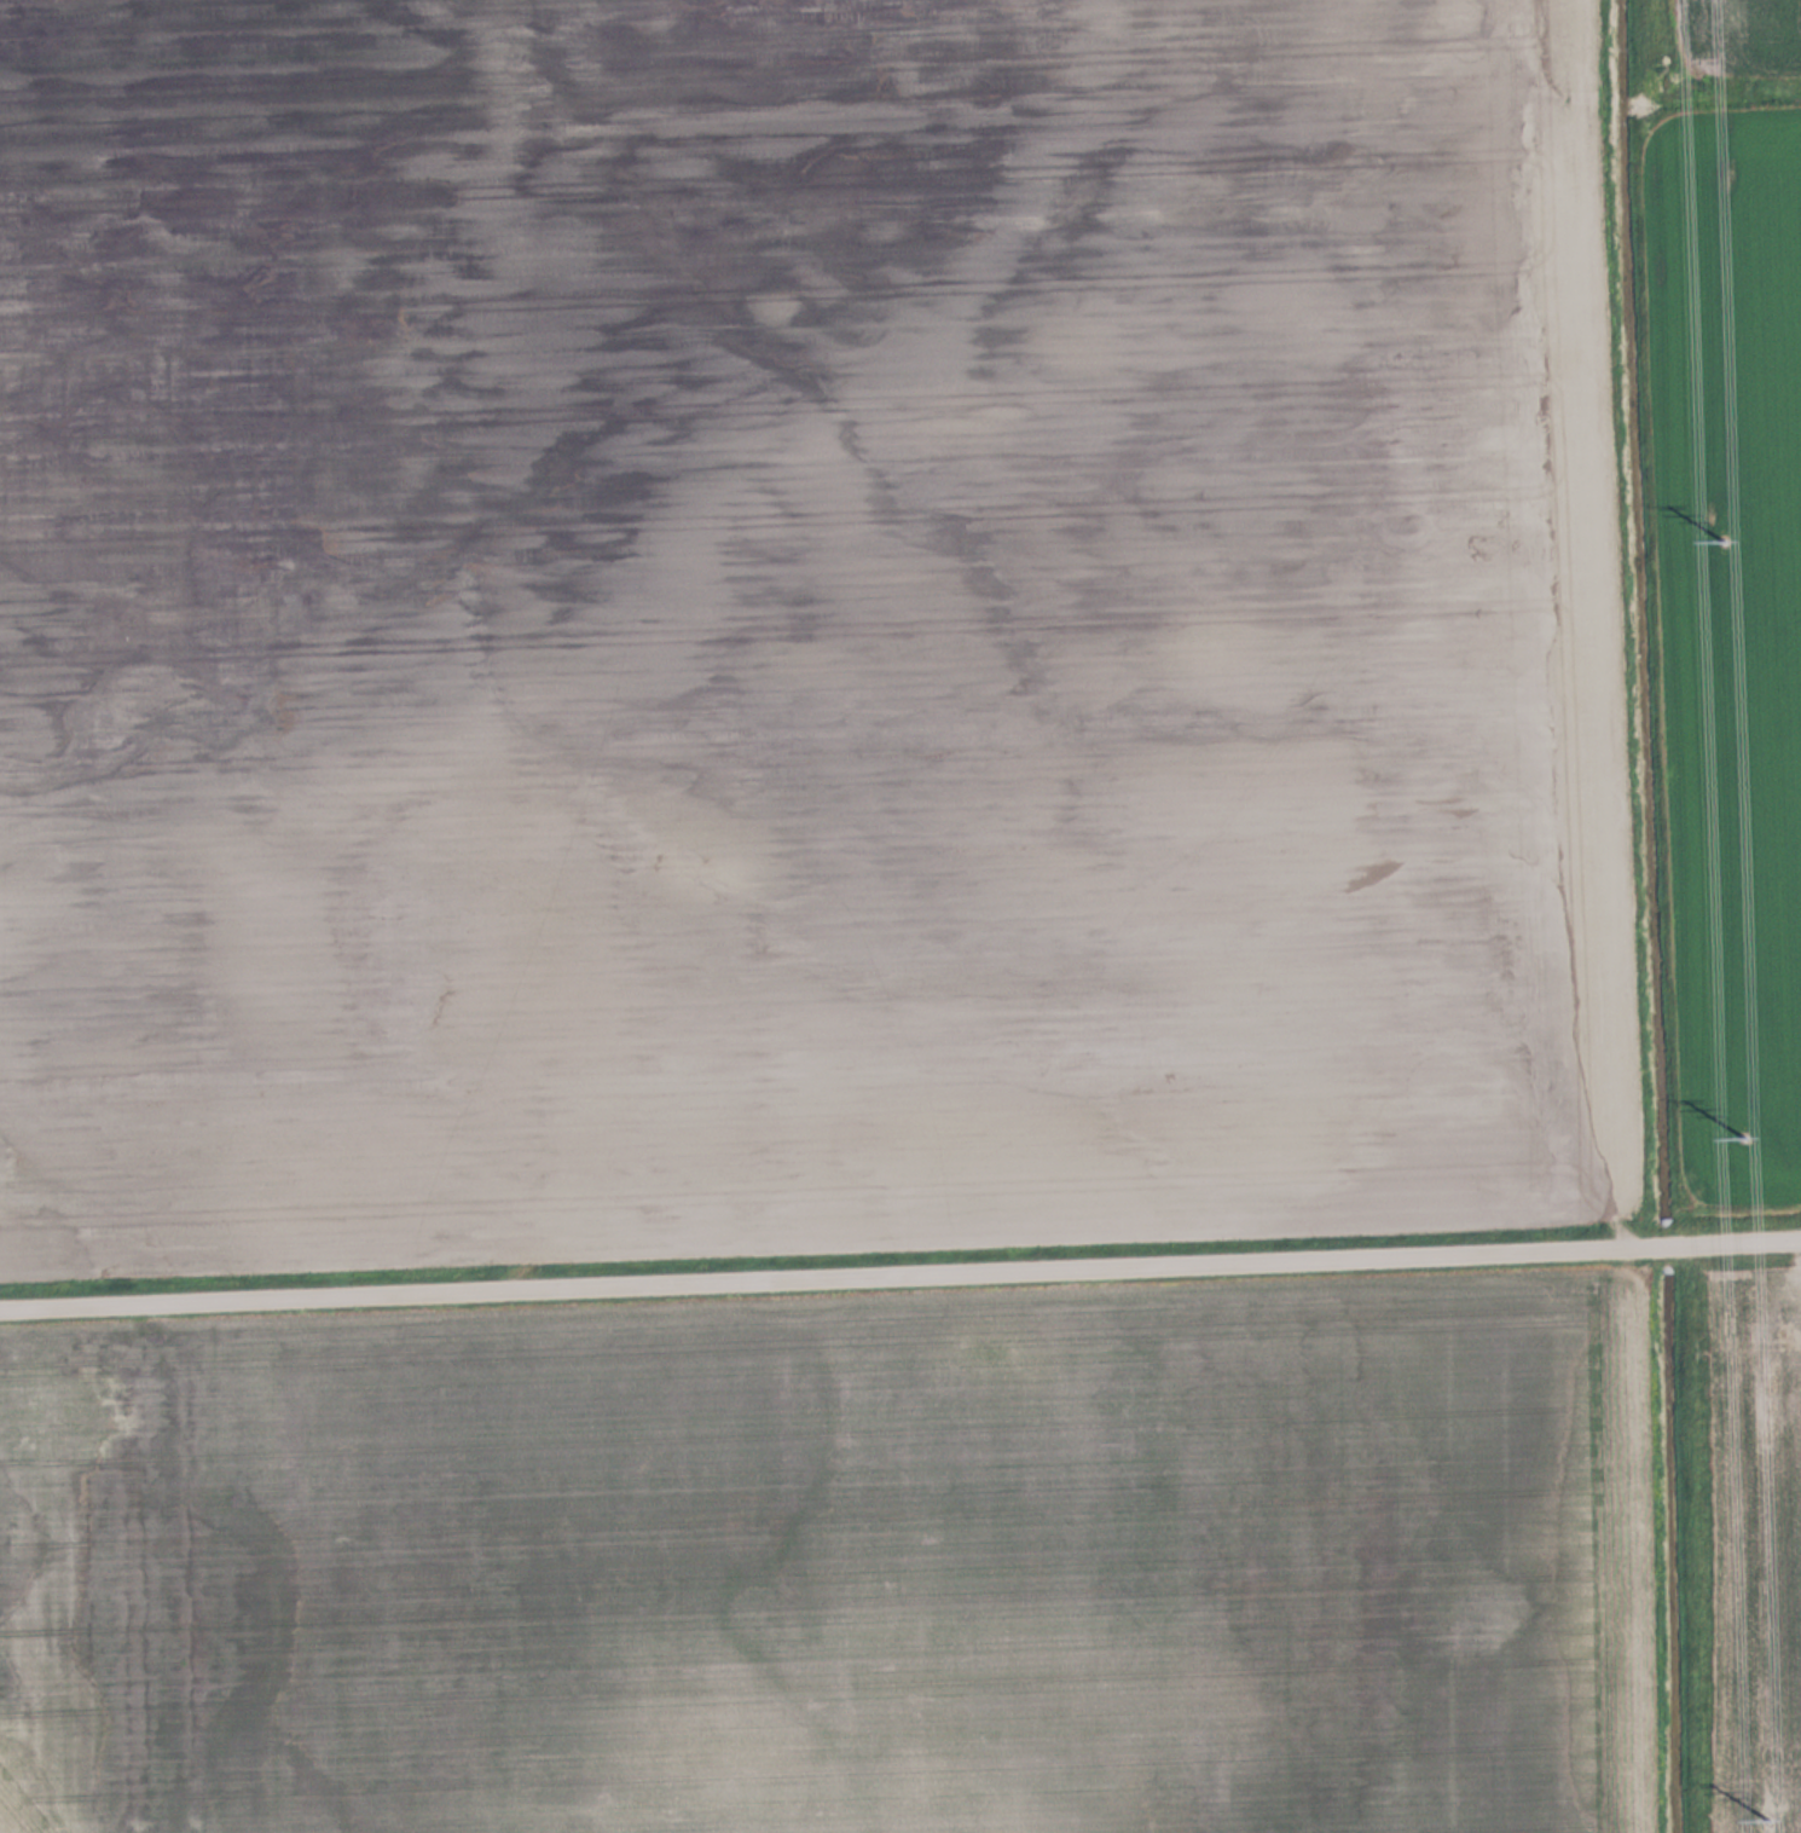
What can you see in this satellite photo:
power tower: (1719, 531)
power tower: (1743, 1133)
road: (900, 1273)
power tower: (1765, 1811)

